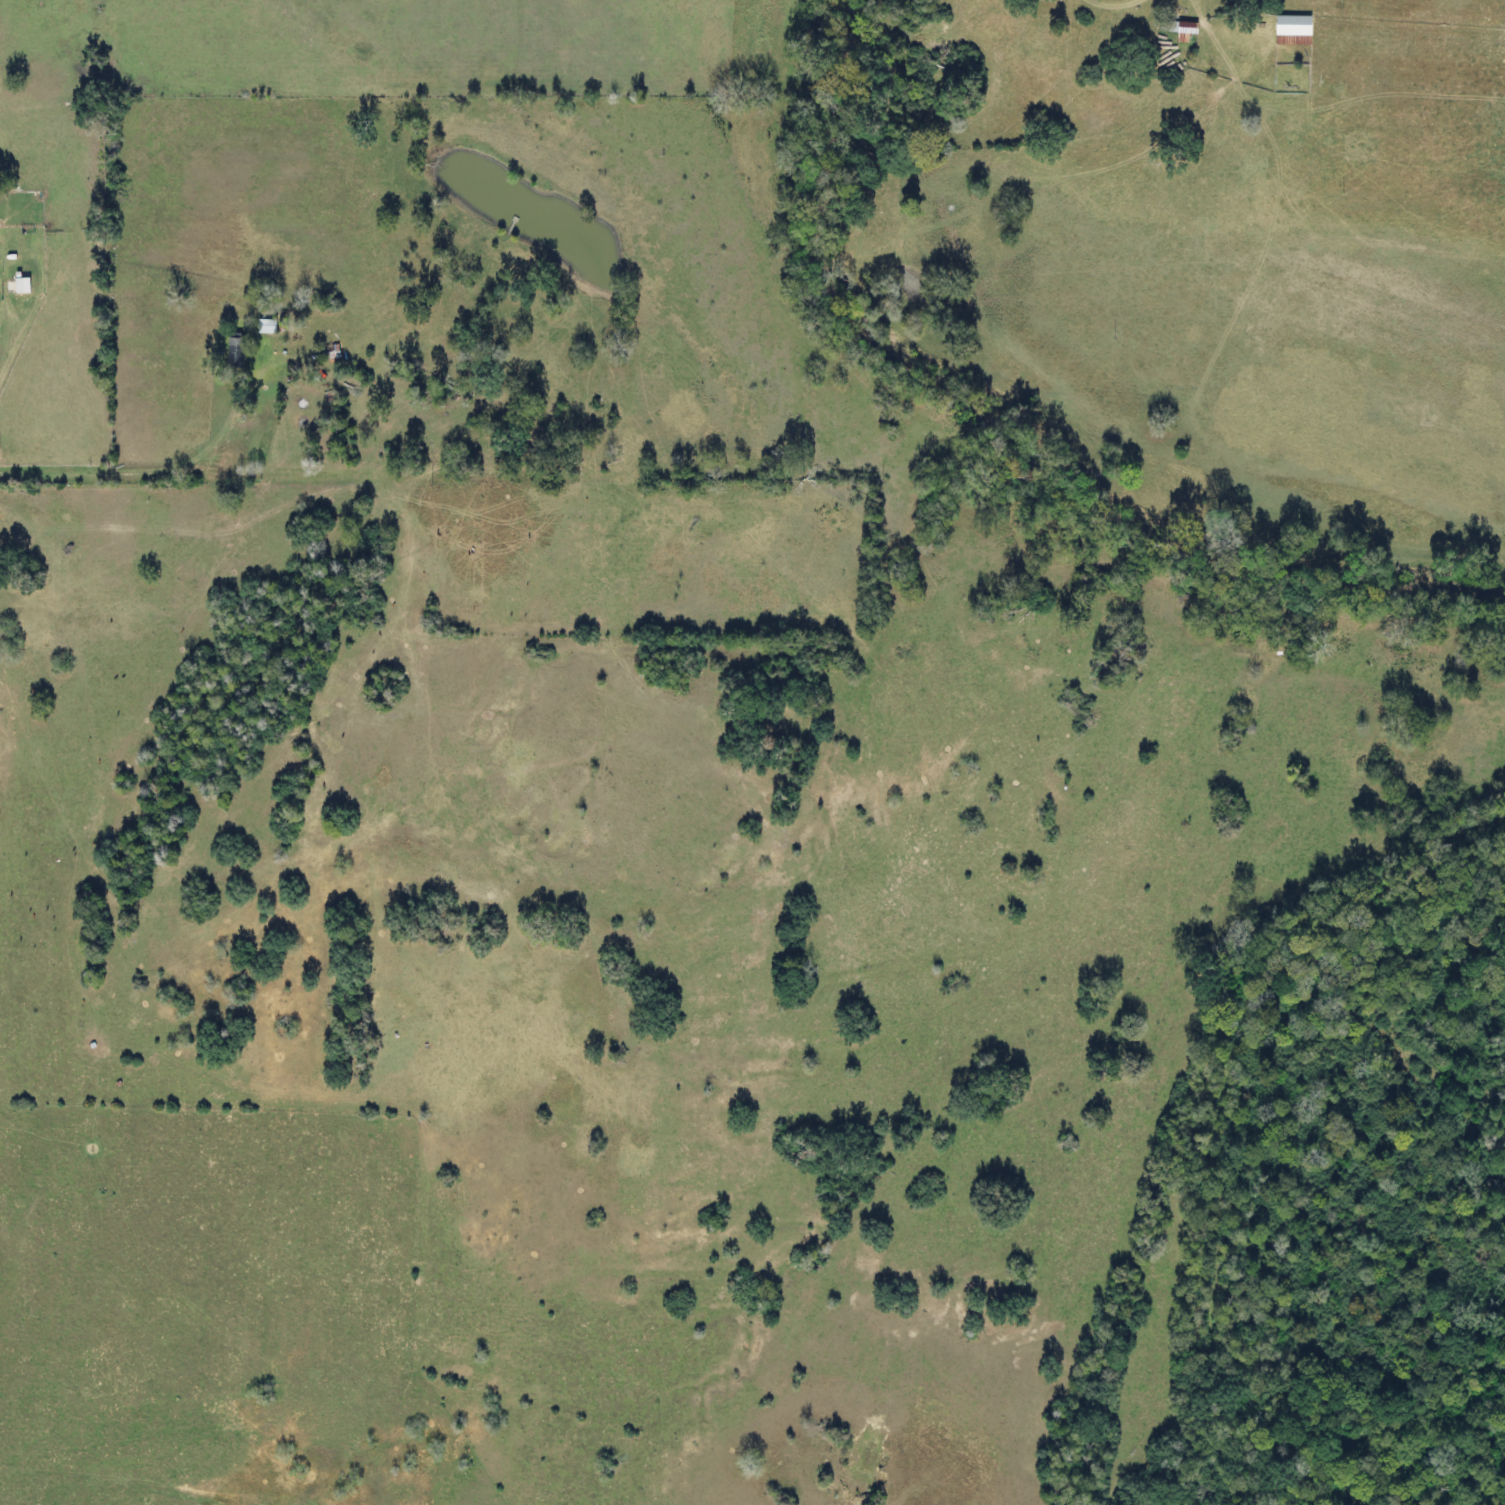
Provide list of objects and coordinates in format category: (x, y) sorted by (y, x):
building: (1294, 30)
building: (1184, 32)
building: (266, 326)
building: (235, 351)
building: (332, 352)
road: (58, 467)

